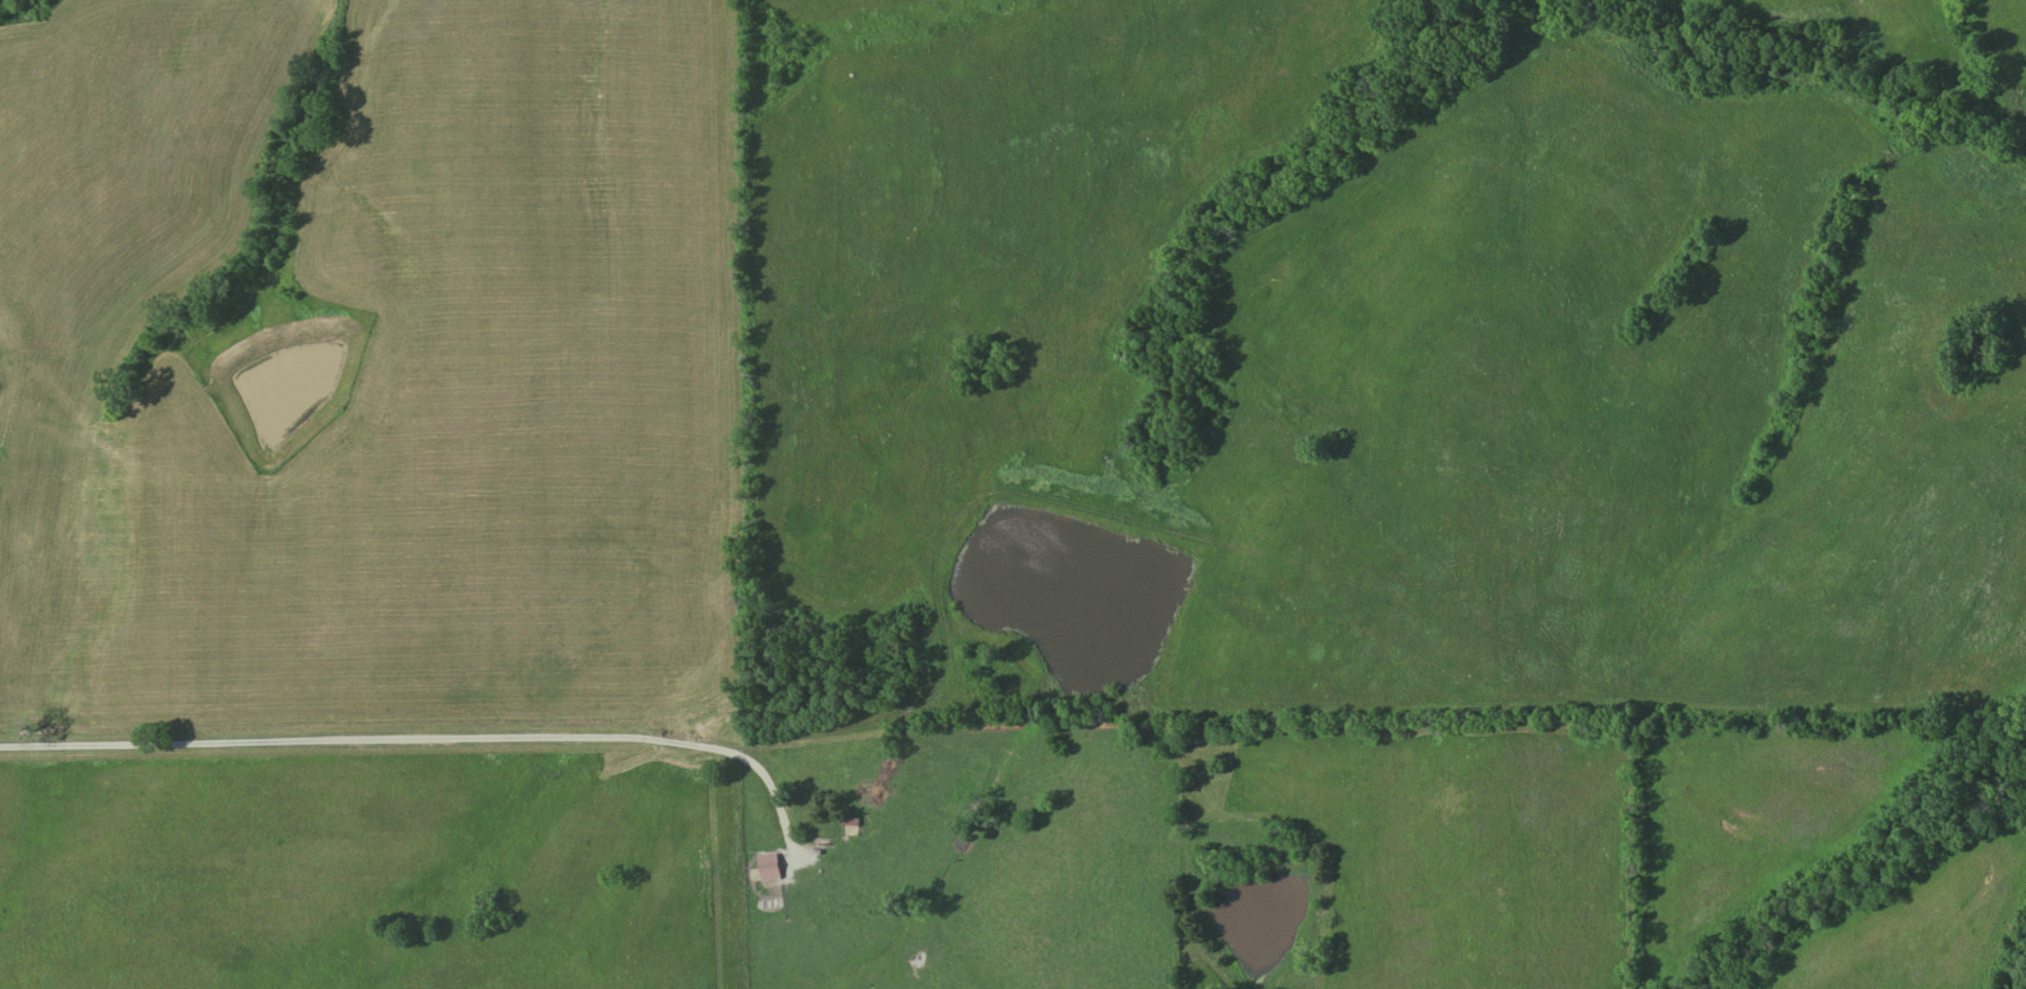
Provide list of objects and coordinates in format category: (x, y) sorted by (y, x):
road: (431, 745)
road: (1411, 851)
building: (769, 868)

